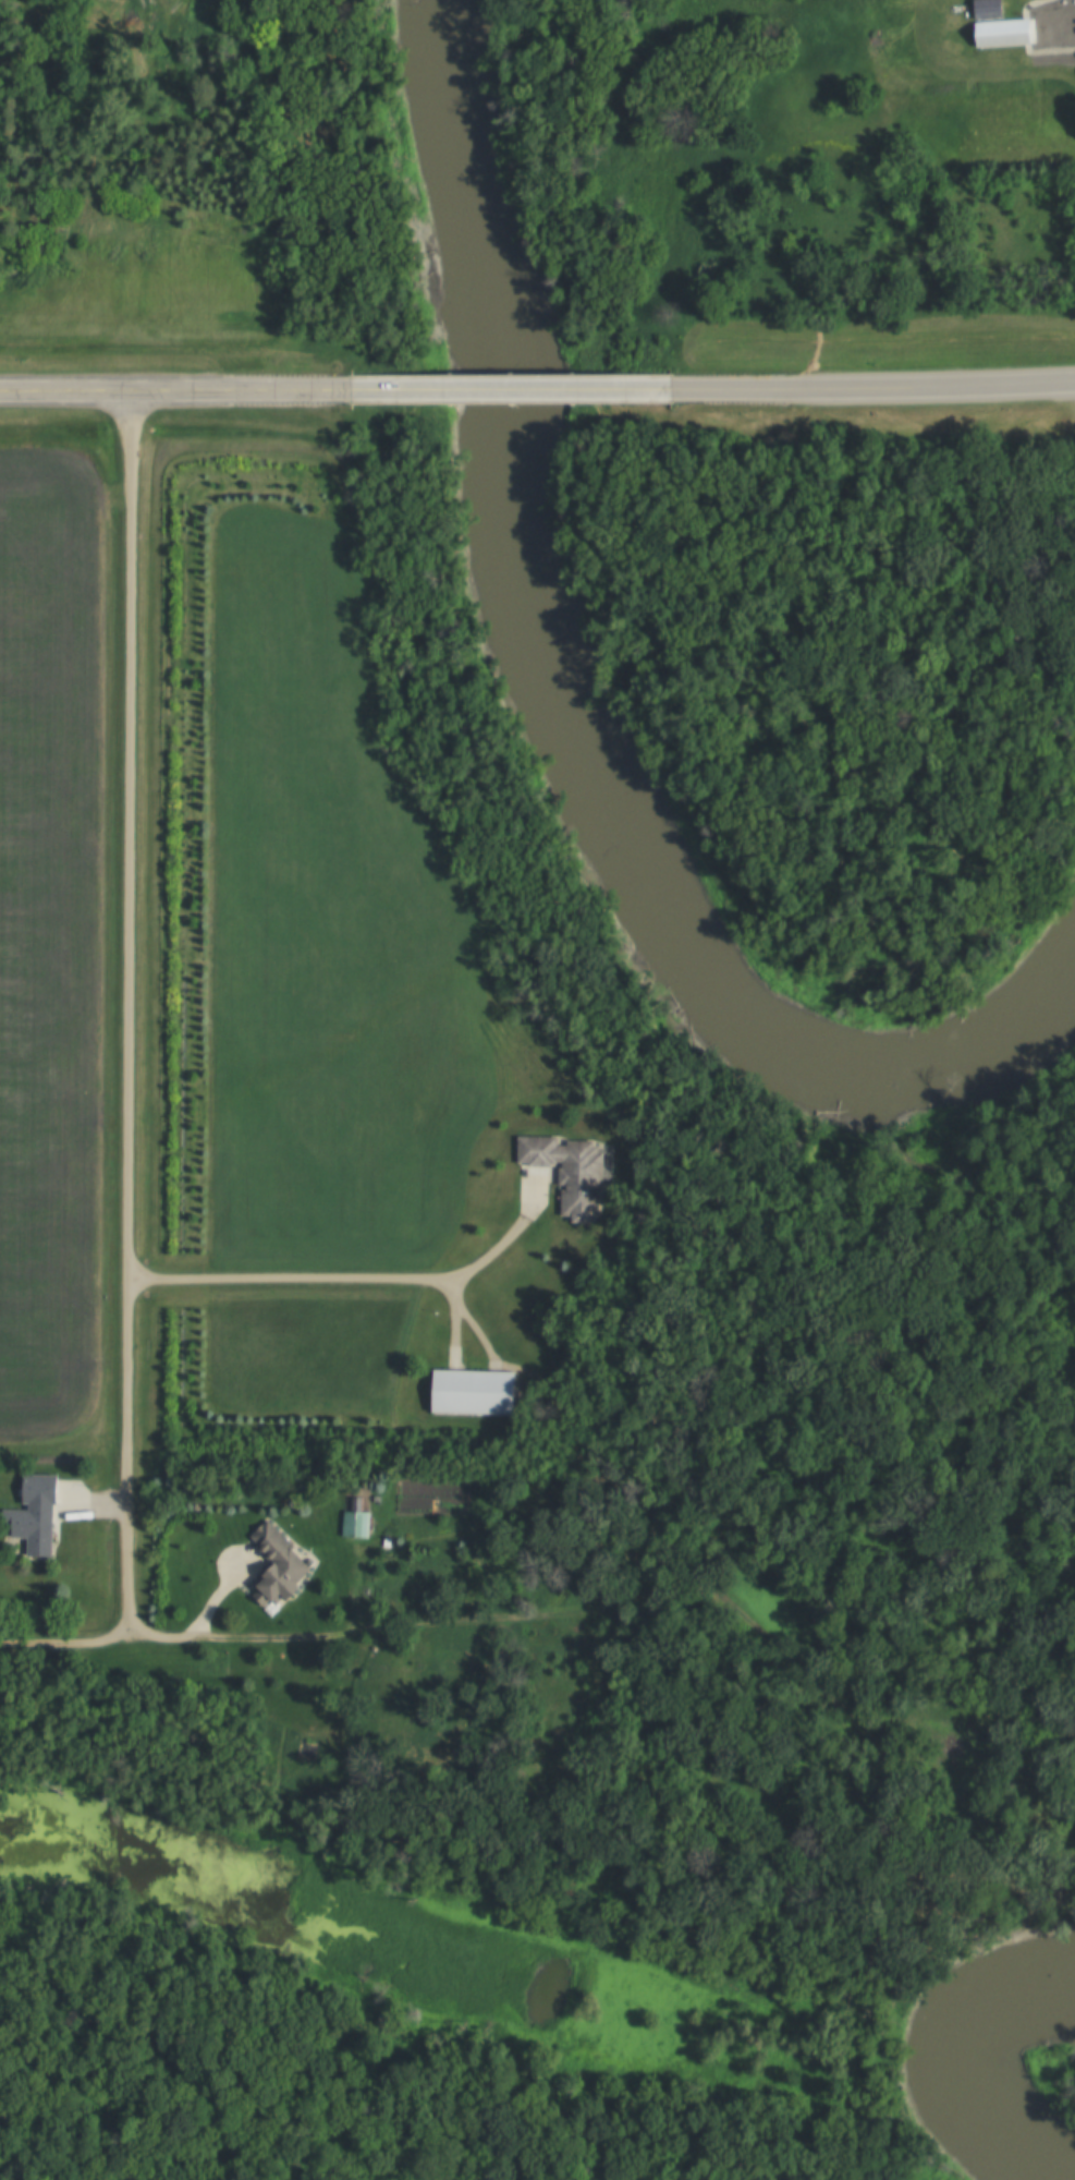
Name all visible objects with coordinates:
building: (997, 34)
road: (872, 381)
road: (581, 384)
road: (429, 386)
road: (183, 388)
river: (569, 718)
road: (127, 1014)
building: (562, 1171)
road: (351, 1282)
building: (464, 1392)
building: (351, 1524)
building: (37, 1526)
building: (282, 1565)
road: (401, 1627)
road: (237, 1639)
road: (65, 1646)
river: (1001, 2014)
river: (974, 2125)
river: (1010, 2176)

